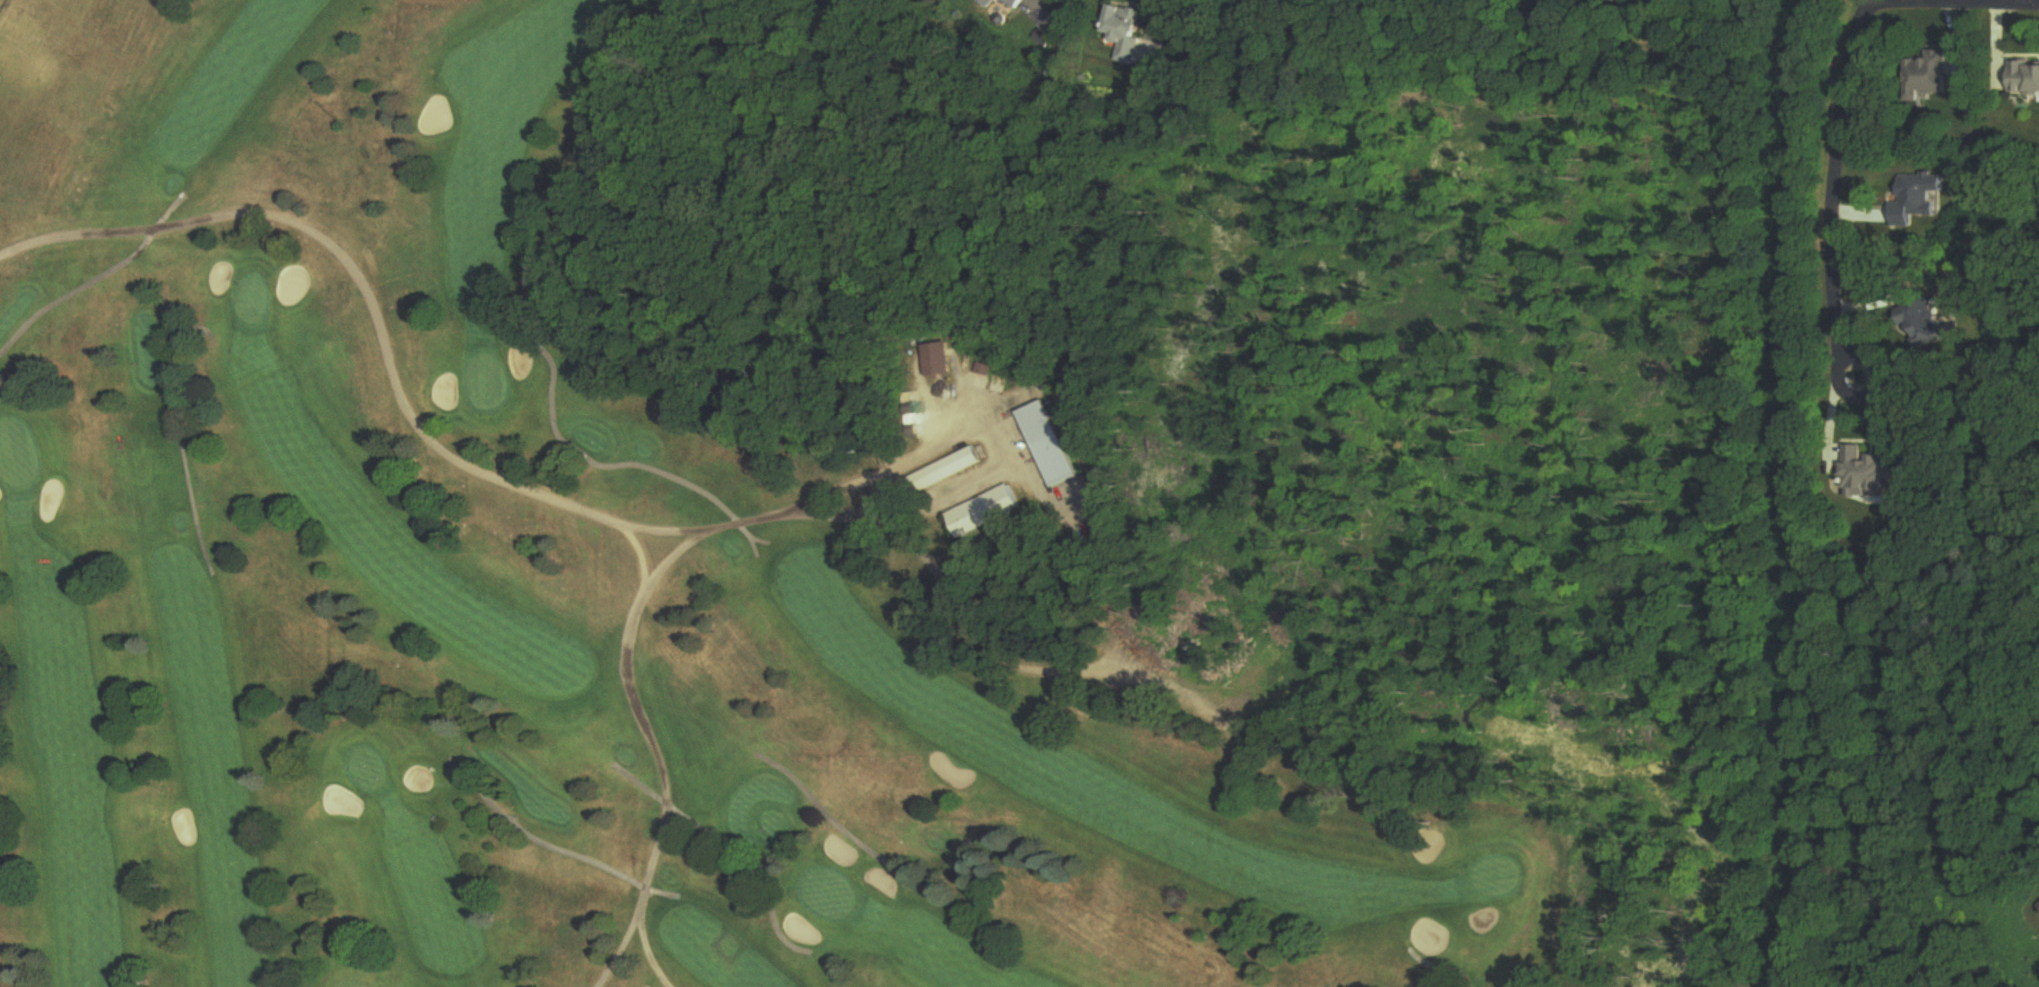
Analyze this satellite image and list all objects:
building: (986, 3)
building: (1013, 3)
road: (1862, 4)
building: (1126, 32)
building: (1929, 76)
building: (2027, 79)
road: (1833, 169)
building: (1929, 325)
building: (937, 361)
building: (1049, 445)
building: (943, 472)
building: (1871, 476)
building: (984, 512)
park: (663, 552)
building: (2038, 906)

